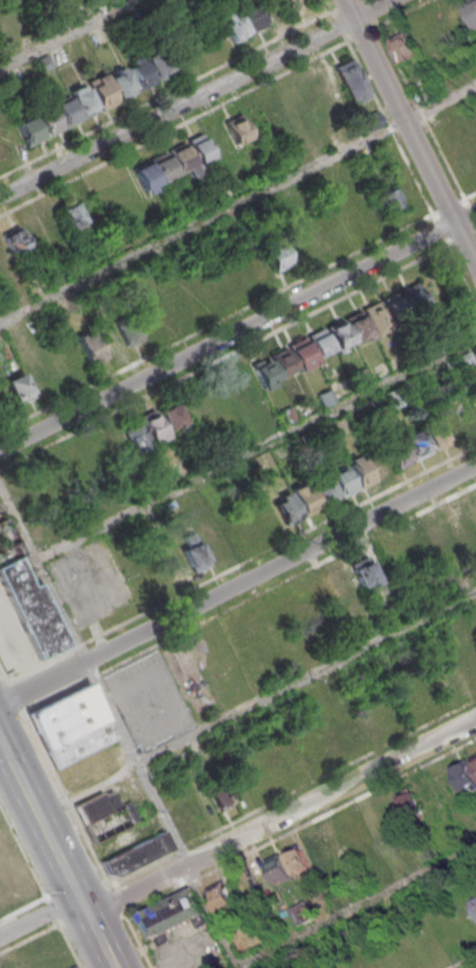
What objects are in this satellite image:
road: (372, 10)
building: (471, 12)
building: (241, 21)
road: (71, 35)
building: (404, 46)
building: (157, 62)
building: (139, 73)
building: (351, 80)
building: (120, 81)
building: (101, 91)
building: (73, 105)
road: (176, 108)
building: (46, 121)
building: (237, 129)
building: (28, 131)
road: (409, 133)
building: (199, 148)
building: (163, 166)
building: (389, 198)
road: (237, 203)
building: (69, 214)
building: (13, 242)
building: (277, 257)
building: (413, 300)
building: (365, 323)
road: (238, 330)
building: (108, 340)
building: (319, 342)
building: (274, 367)
building: (18, 387)
building: (475, 397)
building: (466, 425)
building: (152, 427)
building: (435, 434)
building: (416, 444)
road: (255, 447)
building: (388, 458)
building: (360, 471)
building: (333, 486)
building: (294, 503)
building: (471, 513)
building: (445, 530)
building: (6, 533)
building: (199, 549)
building: (355, 578)
parking lot: (89, 580)
road: (238, 585)
building: (32, 610)
road: (99, 636)
parking lot: (13, 637)
road: (305, 678)
road: (108, 700)
parking lot: (147, 700)
building: (71, 725)
road: (117, 728)
road: (14, 767)
building: (466, 774)
building: (220, 794)
building: (96, 805)
building: (400, 809)
road: (282, 816)
building: (110, 821)
building: (127, 836)
building: (136, 853)
building: (297, 860)
road: (34, 873)
road: (72, 881)
building: (223, 898)
road: (355, 902)
building: (474, 904)
road: (52, 909)
building: (171, 913)
road: (39, 915)
road: (52, 925)
building: (379, 960)

